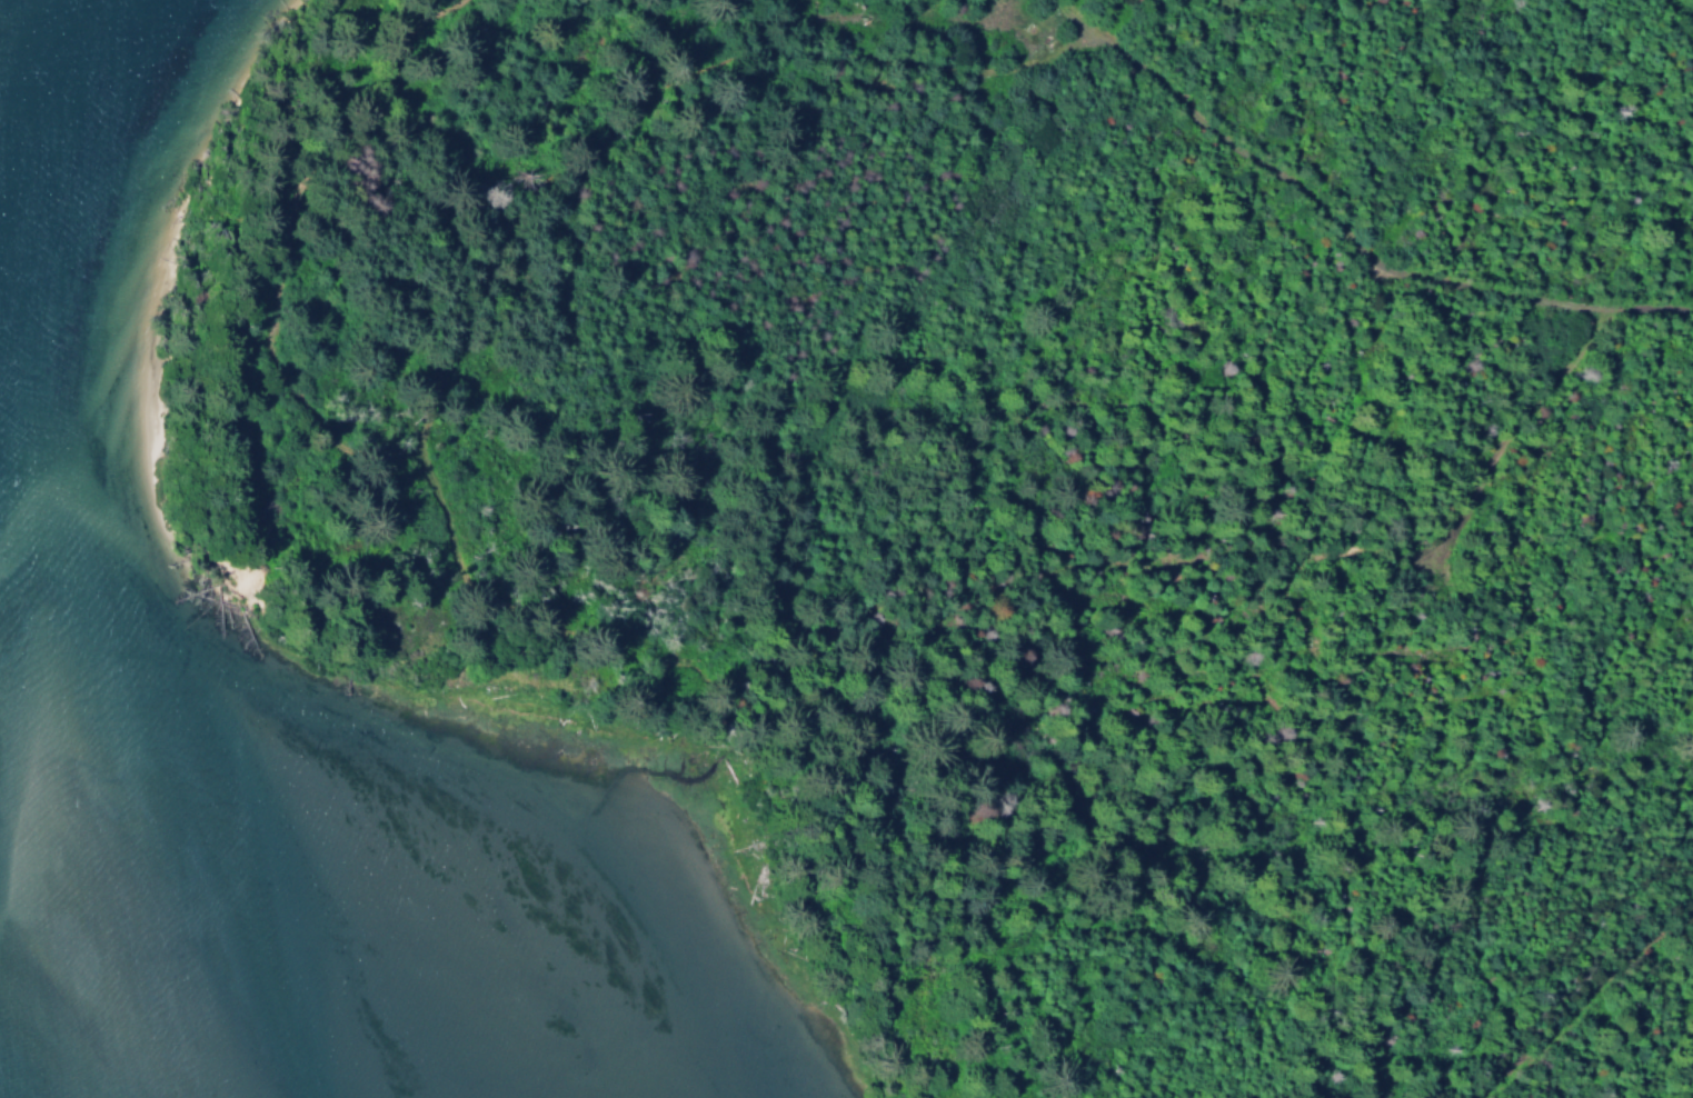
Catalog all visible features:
road: (1344, 228)

